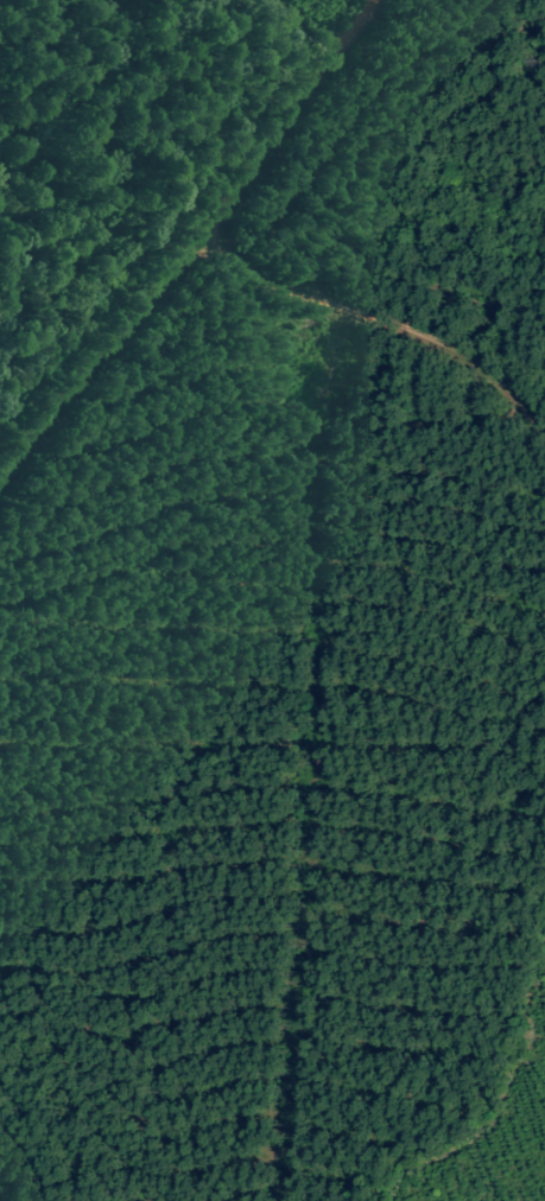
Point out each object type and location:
road: (199, 266)

